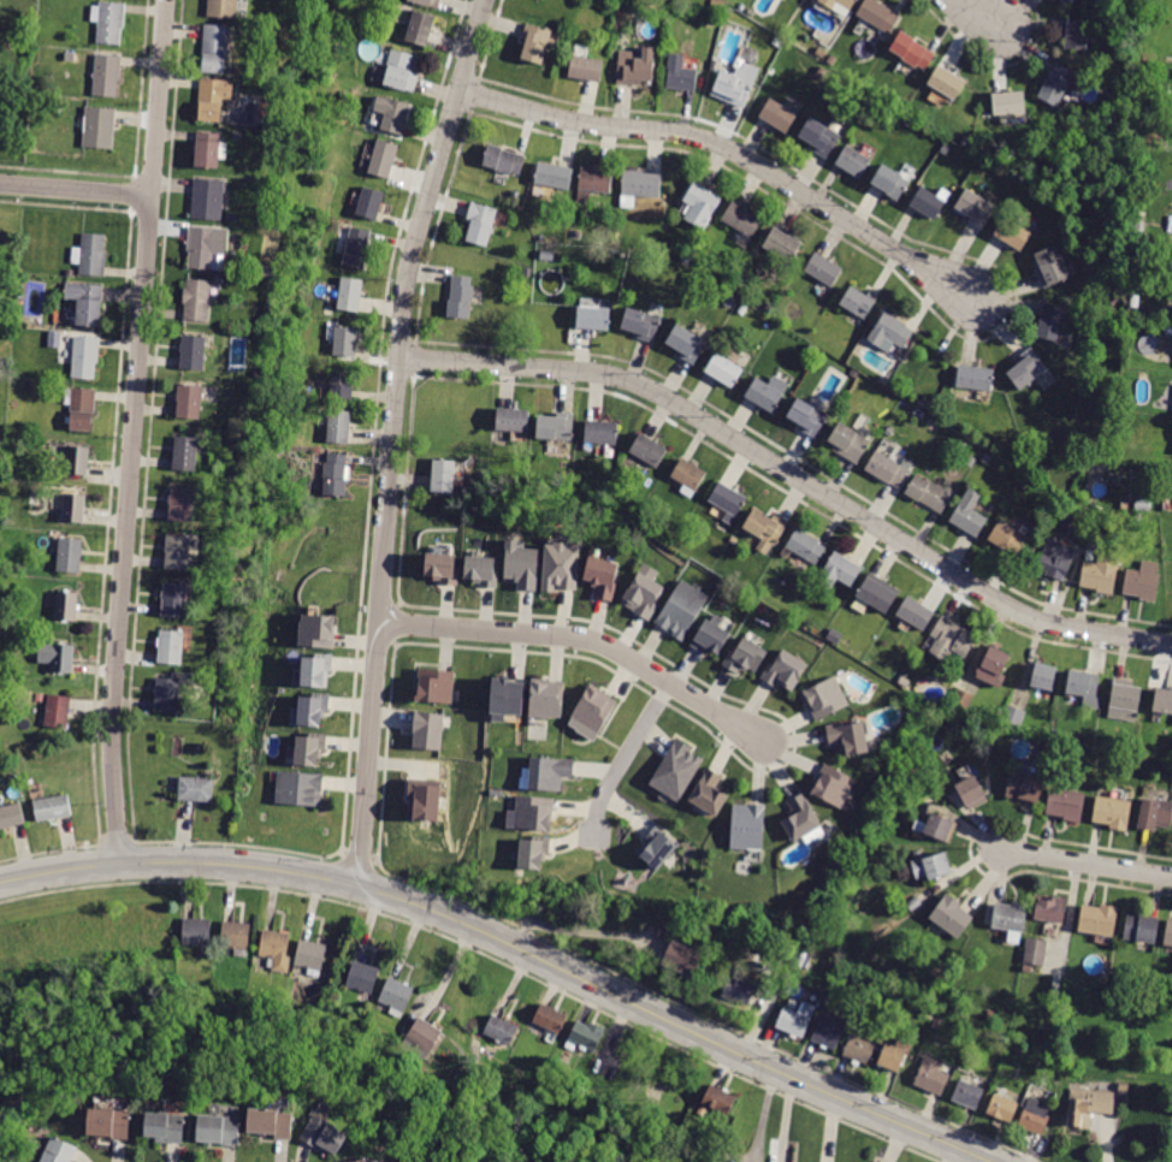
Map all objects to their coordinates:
building: (1066, 1)
building: (428, 2)
building: (718, 2)
building: (839, 4)
building: (223, 8)
building: (661, 11)
road: (973, 12)
building: (878, 17)
building: (111, 22)
building: (710, 22)
building: (420, 29)
building: (1077, 35)
building: (535, 43)
building: (341, 48)
building: (214, 49)
building: (911, 51)
building: (821, 52)
building: (750, 55)
building: (77, 58)
building: (831, 59)
building: (637, 67)
building: (586, 69)
building: (398, 71)
building: (107, 75)
building: (680, 75)
building: (946, 82)
building: (735, 84)
building: (1056, 84)
building: (1125, 97)
building: (213, 99)
building: (1008, 103)
building: (60, 108)
building: (12, 112)
building: (395, 115)
building: (779, 115)
building: (99, 128)
building: (819, 137)
building: (212, 150)
road: (733, 150)
building: (383, 159)
building: (503, 160)
building: (853, 161)
building: (554, 176)
building: (890, 182)
building: (593, 183)
building: (639, 186)
road: (75, 190)
building: (207, 200)
building: (369, 203)
building: (928, 203)
building: (700, 204)
building: (976, 208)
building: (232, 218)
building: (742, 219)
building: (480, 223)
building: (1140, 227)
building: (1013, 231)
building: (576, 236)
building: (541, 238)
building: (782, 245)
building: (207, 248)
building: (356, 248)
building: (91, 255)
building: (544, 255)
building: (686, 257)
building: (1050, 266)
building: (824, 268)
building: (244, 272)
building: (267, 272)
building: (528, 272)
building: (70, 273)
building: (726, 280)
building: (350, 294)
building: (461, 297)
building: (196, 300)
building: (1133, 301)
building: (729, 302)
building: (858, 302)
building: (87, 303)
building: (742, 309)
building: (593, 318)
building: (1050, 321)
building: (641, 324)
building: (4, 330)
building: (890, 331)
building: (345, 342)
building: (687, 343)
building: (812, 350)
building: (194, 352)
building: (85, 356)
building: (929, 362)
building: (1026, 368)
building: (723, 369)
building: (259, 377)
building: (975, 378)
building: (342, 384)
building: (32, 386)
building: (768, 392)
building: (189, 402)
building: (81, 408)
building: (807, 417)
building: (513, 420)
building: (338, 427)
building: (556, 427)
road: (132, 431)
building: (602, 433)
road: (392, 437)
building: (850, 441)
building: (1, 443)
building: (647, 450)
building: (185, 453)
building: (988, 458)
building: (78, 461)
building: (970, 462)
building: (1024, 467)
building: (887, 469)
building: (1042, 472)
building: (335, 475)
road: (792, 475)
building: (443, 476)
building: (688, 476)
building: (1029, 485)
building: (928, 493)
building: (728, 500)
building: (182, 504)
building: (1143, 504)
building: (1125, 505)
building: (75, 509)
building: (969, 514)
building: (766, 529)
building: (734, 540)
building: (1008, 540)
building: (806, 546)
building: (178, 552)
building: (70, 556)
building: (1054, 561)
building: (521, 564)
building: (439, 565)
building: (560, 565)
building: (480, 569)
building: (840, 571)
building: (1101, 573)
building: (600, 576)
building: (1143, 581)
building: (801, 586)
building: (644, 593)
building: (876, 593)
building: (177, 600)
building: (66, 606)
building: (682, 610)
building: (916, 613)
building: (316, 630)
building: (710, 634)
building: (951, 639)
road: (585, 640)
building: (171, 647)
building: (745, 654)
building: (58, 657)
building: (993, 666)
building: (315, 670)
building: (786, 671)
building: (1043, 677)
building: (904, 681)
building: (436, 686)
building: (1084, 687)
building: (167, 695)
building: (41, 698)
building: (505, 698)
building: (825, 699)
building: (961, 700)
building: (545, 701)
building: (1124, 701)
building: (1162, 701)
building: (309, 710)
building: (594, 710)
building: (58, 711)
building: (1013, 717)
building: (975, 729)
building: (427, 730)
building: (992, 730)
building: (850, 739)
building: (308, 747)
building: (1130, 748)
road: (626, 761)
building: (677, 771)
building: (549, 775)
building: (834, 785)
building: (1024, 787)
building: (300, 788)
building: (196, 789)
building: (970, 790)
building: (709, 794)
building: (424, 799)
building: (1066, 805)
building: (53, 807)
building: (1112, 812)
building: (531, 813)
building: (1155, 814)
building: (11, 816)
building: (801, 819)
building: (748, 828)
building: (939, 828)
road: (114, 835)
road: (129, 835)
road: (101, 836)
road: (235, 842)
building: (656, 847)
road: (341, 849)
road: (51, 850)
building: (532, 850)
road: (355, 855)
road: (372, 856)
road: (1087, 862)
building: (930, 866)
building: (914, 903)
building: (1050, 909)
building: (951, 917)
building: (1011, 917)
building: (1097, 919)
building: (1141, 929)
building: (197, 933)
building: (662, 933)
building: (1168, 933)
building: (236, 937)
road: (509, 943)
building: (1119, 943)
building: (276, 949)
building: (791, 950)
building: (1036, 951)
road: (485, 954)
building: (310, 956)
building: (682, 960)
building: (801, 961)
building: (1118, 976)
building: (362, 978)
building: (1059, 984)
building: (738, 986)
building: (396, 996)
building: (931, 1014)
road: (703, 1015)
building: (989, 1015)
building: (550, 1019)
building: (939, 1020)
building: (793, 1022)
building: (501, 1030)
building: (828, 1031)
building: (587, 1034)
building: (421, 1038)
building: (860, 1049)
building: (893, 1055)
building: (48, 1062)
building: (931, 1077)
building: (211, 1090)
building: (967, 1095)
building: (718, 1099)
building: (1088, 1105)
building: (1002, 1108)
building: (1035, 1116)
building: (271, 1122)
building: (108, 1124)
building: (165, 1127)
building: (218, 1130)
building: (324, 1136)
building: (59, 1151)
building: (365, 1161)

